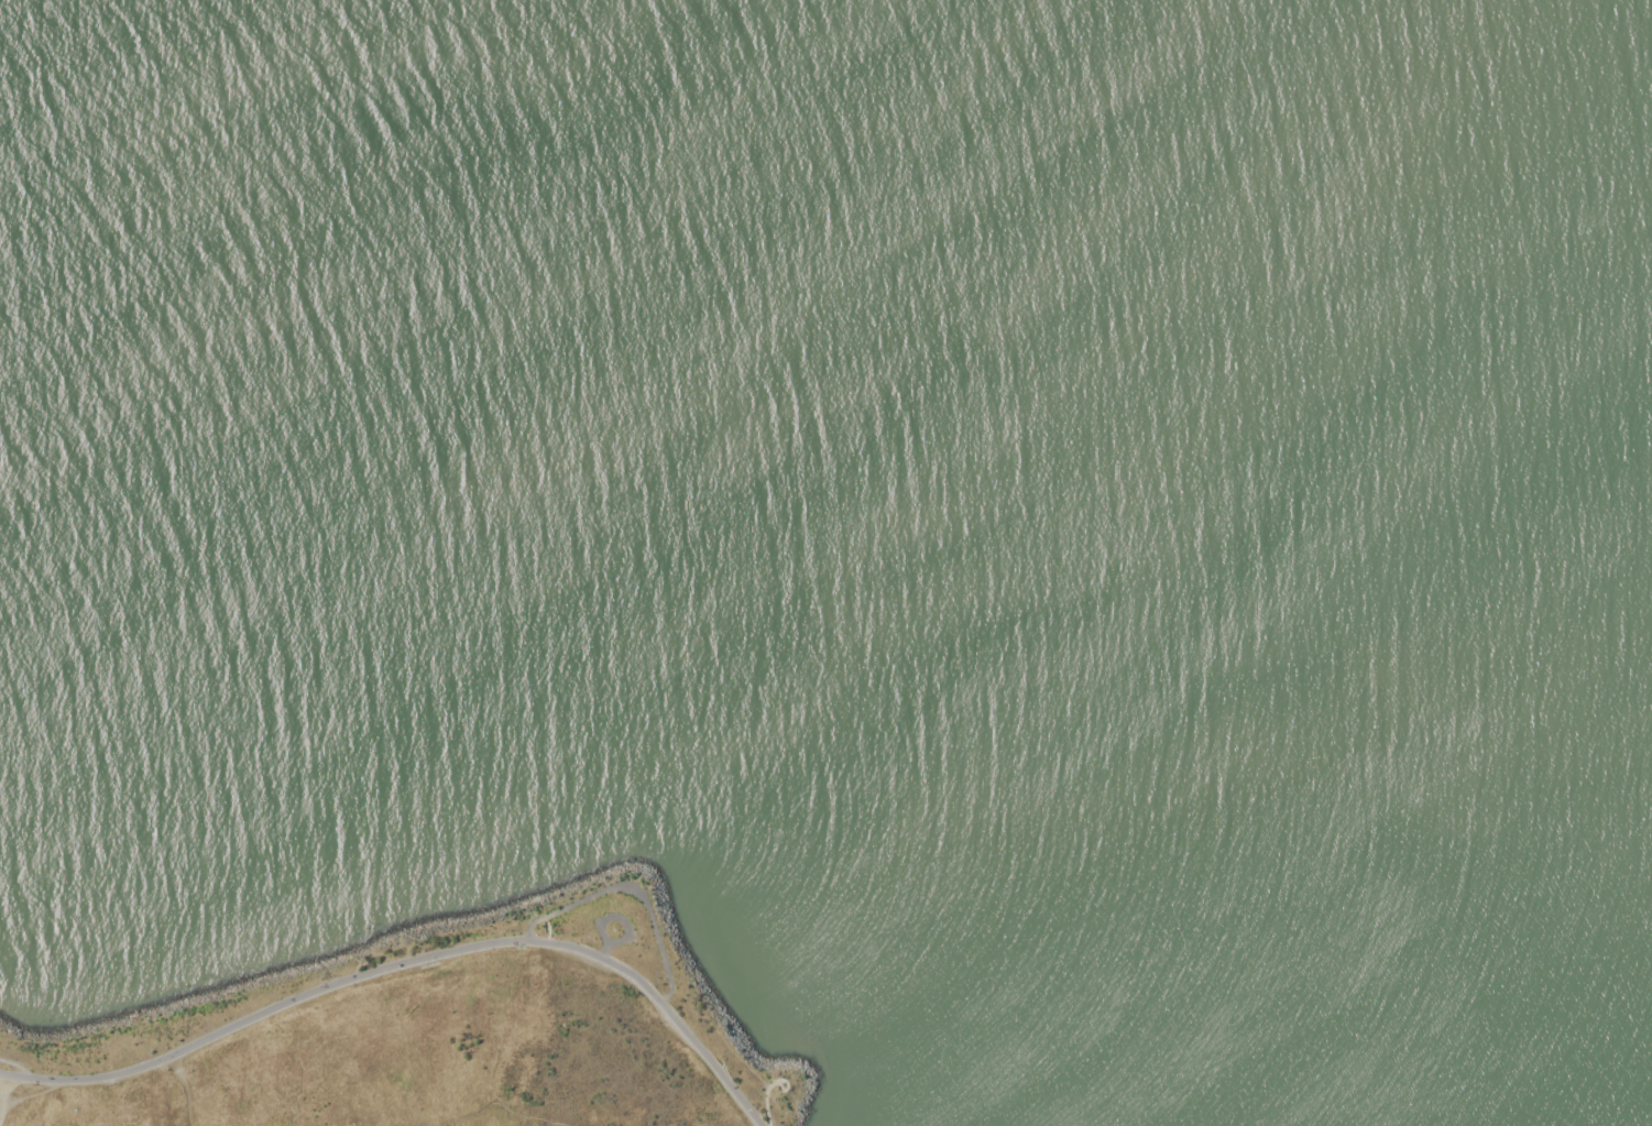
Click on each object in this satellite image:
road: (635, 897)
road: (611, 945)
road: (408, 964)
road: (714, 1025)
park: (434, 1034)
road: (19, 1065)
road: (264, 1074)
road: (769, 1091)
road: (34, 1101)

